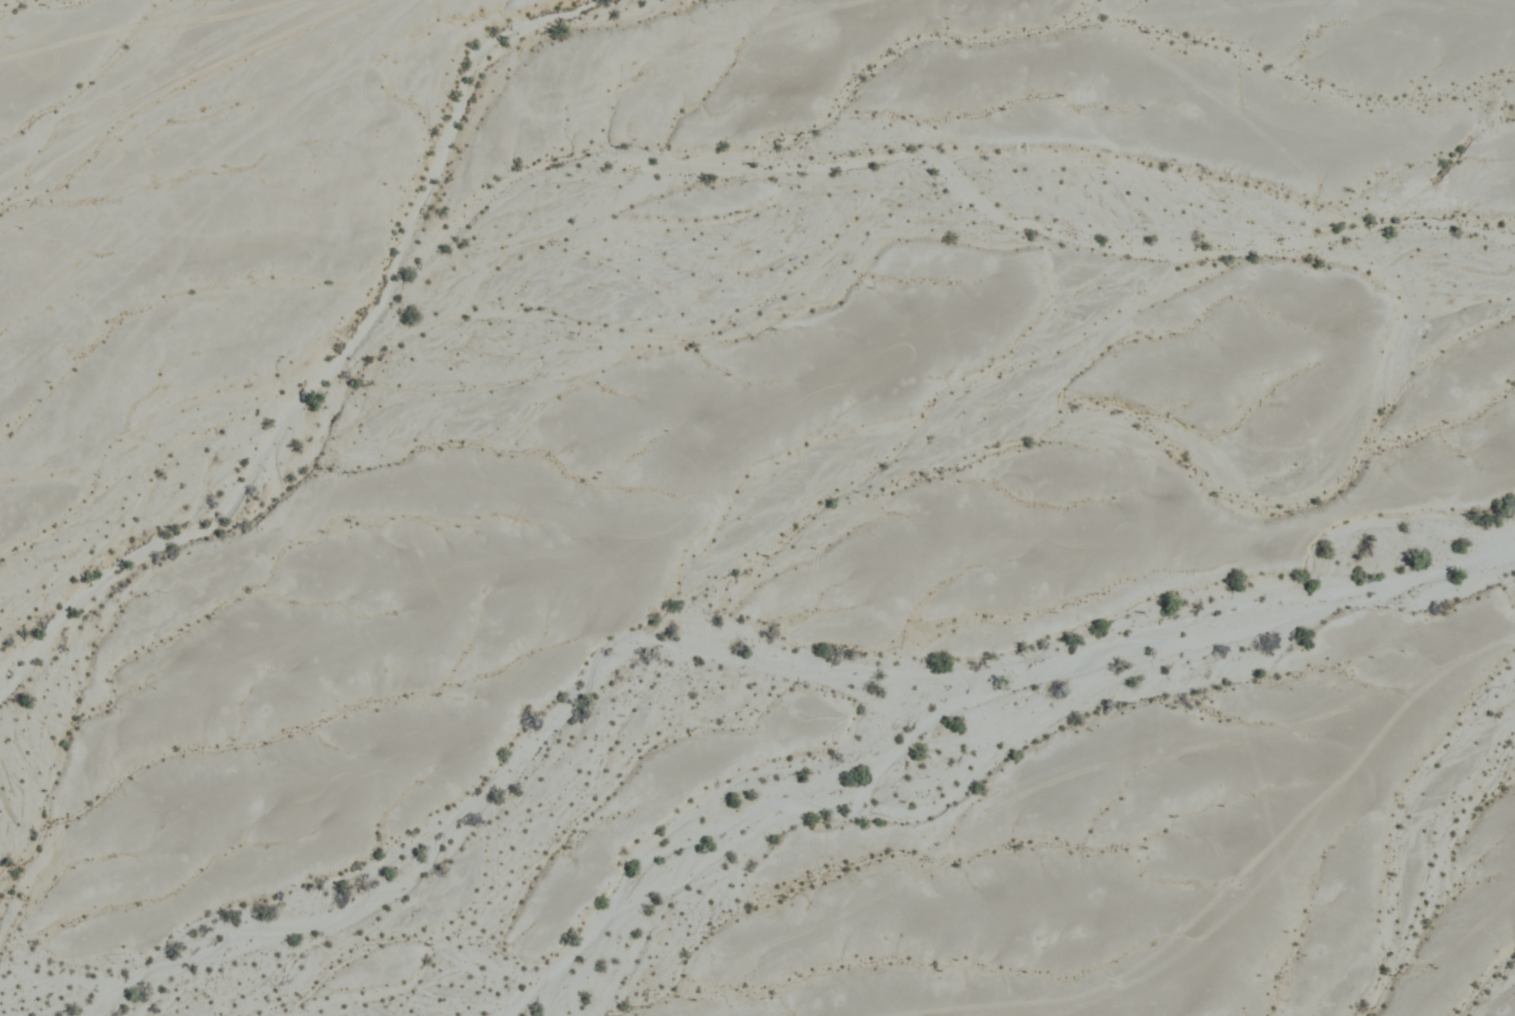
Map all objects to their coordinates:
road: (157, 85)

